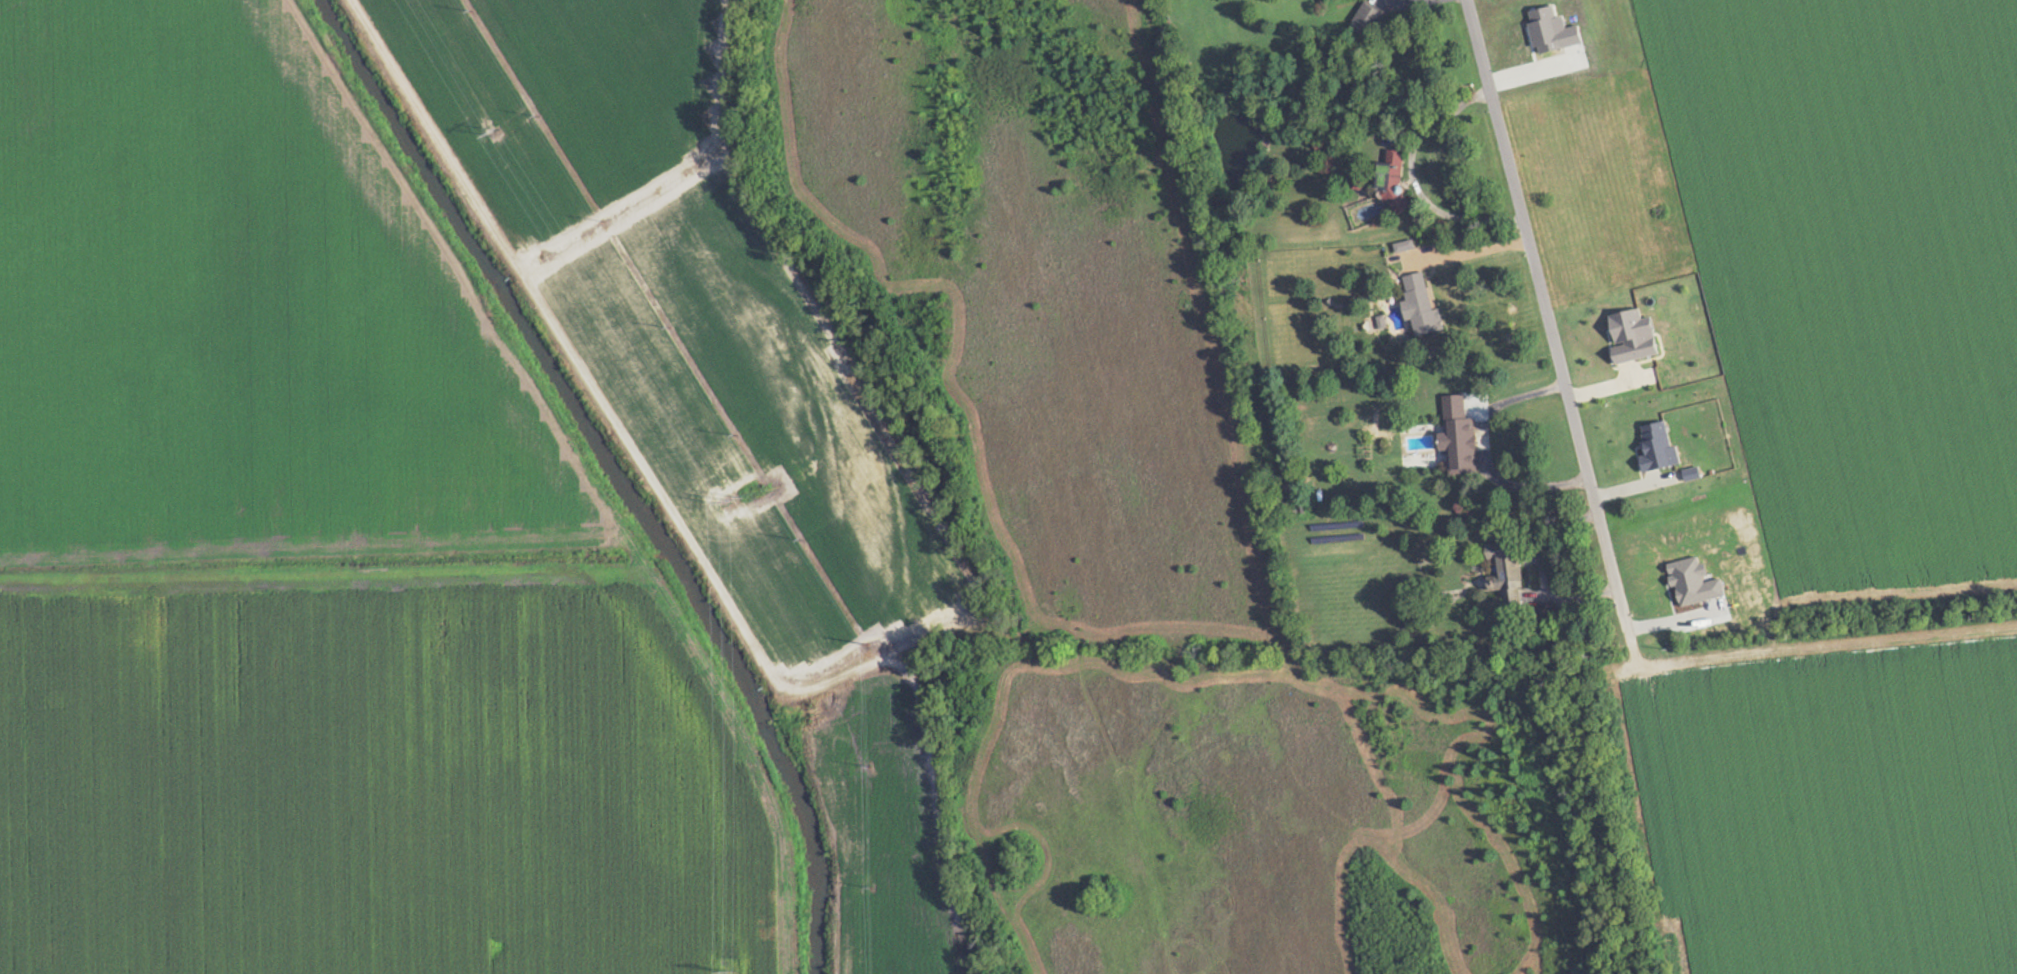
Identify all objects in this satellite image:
building: (1367, 19)
building: (1552, 31)
building: (1404, 245)
building: (1420, 306)
road: (1549, 314)
building: (1632, 336)
building: (1457, 435)
building: (1657, 447)
building: (1692, 473)
power tower: (729, 501)
building: (1503, 567)
building: (1693, 582)

